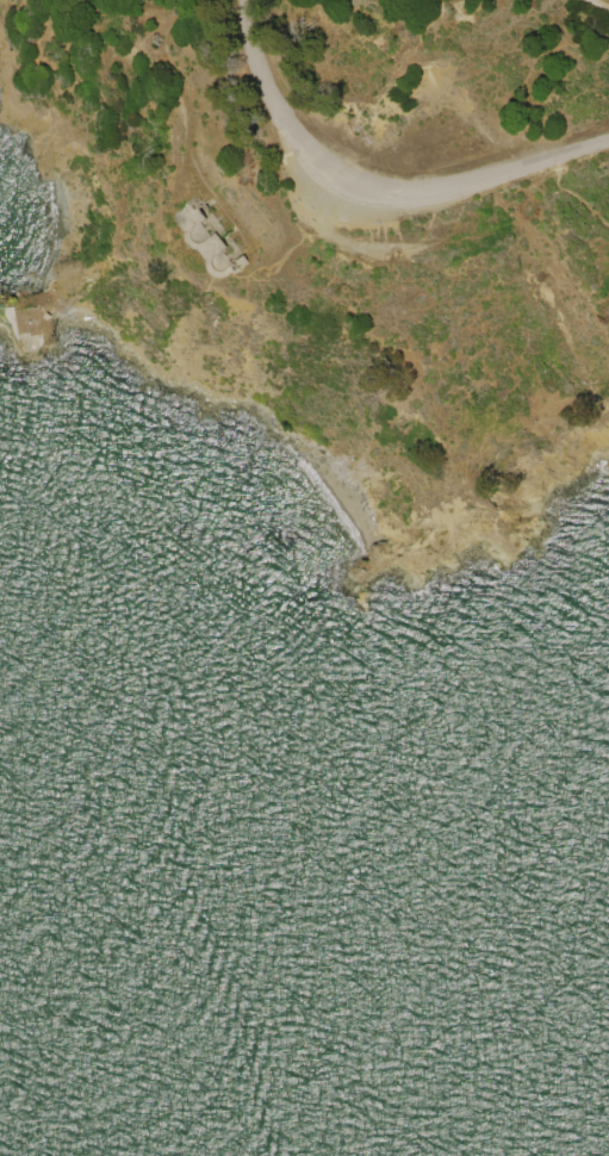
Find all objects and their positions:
road: (384, 185)
road: (577, 187)
building: (224, 237)
park: (342, 241)
building: (26, 327)

